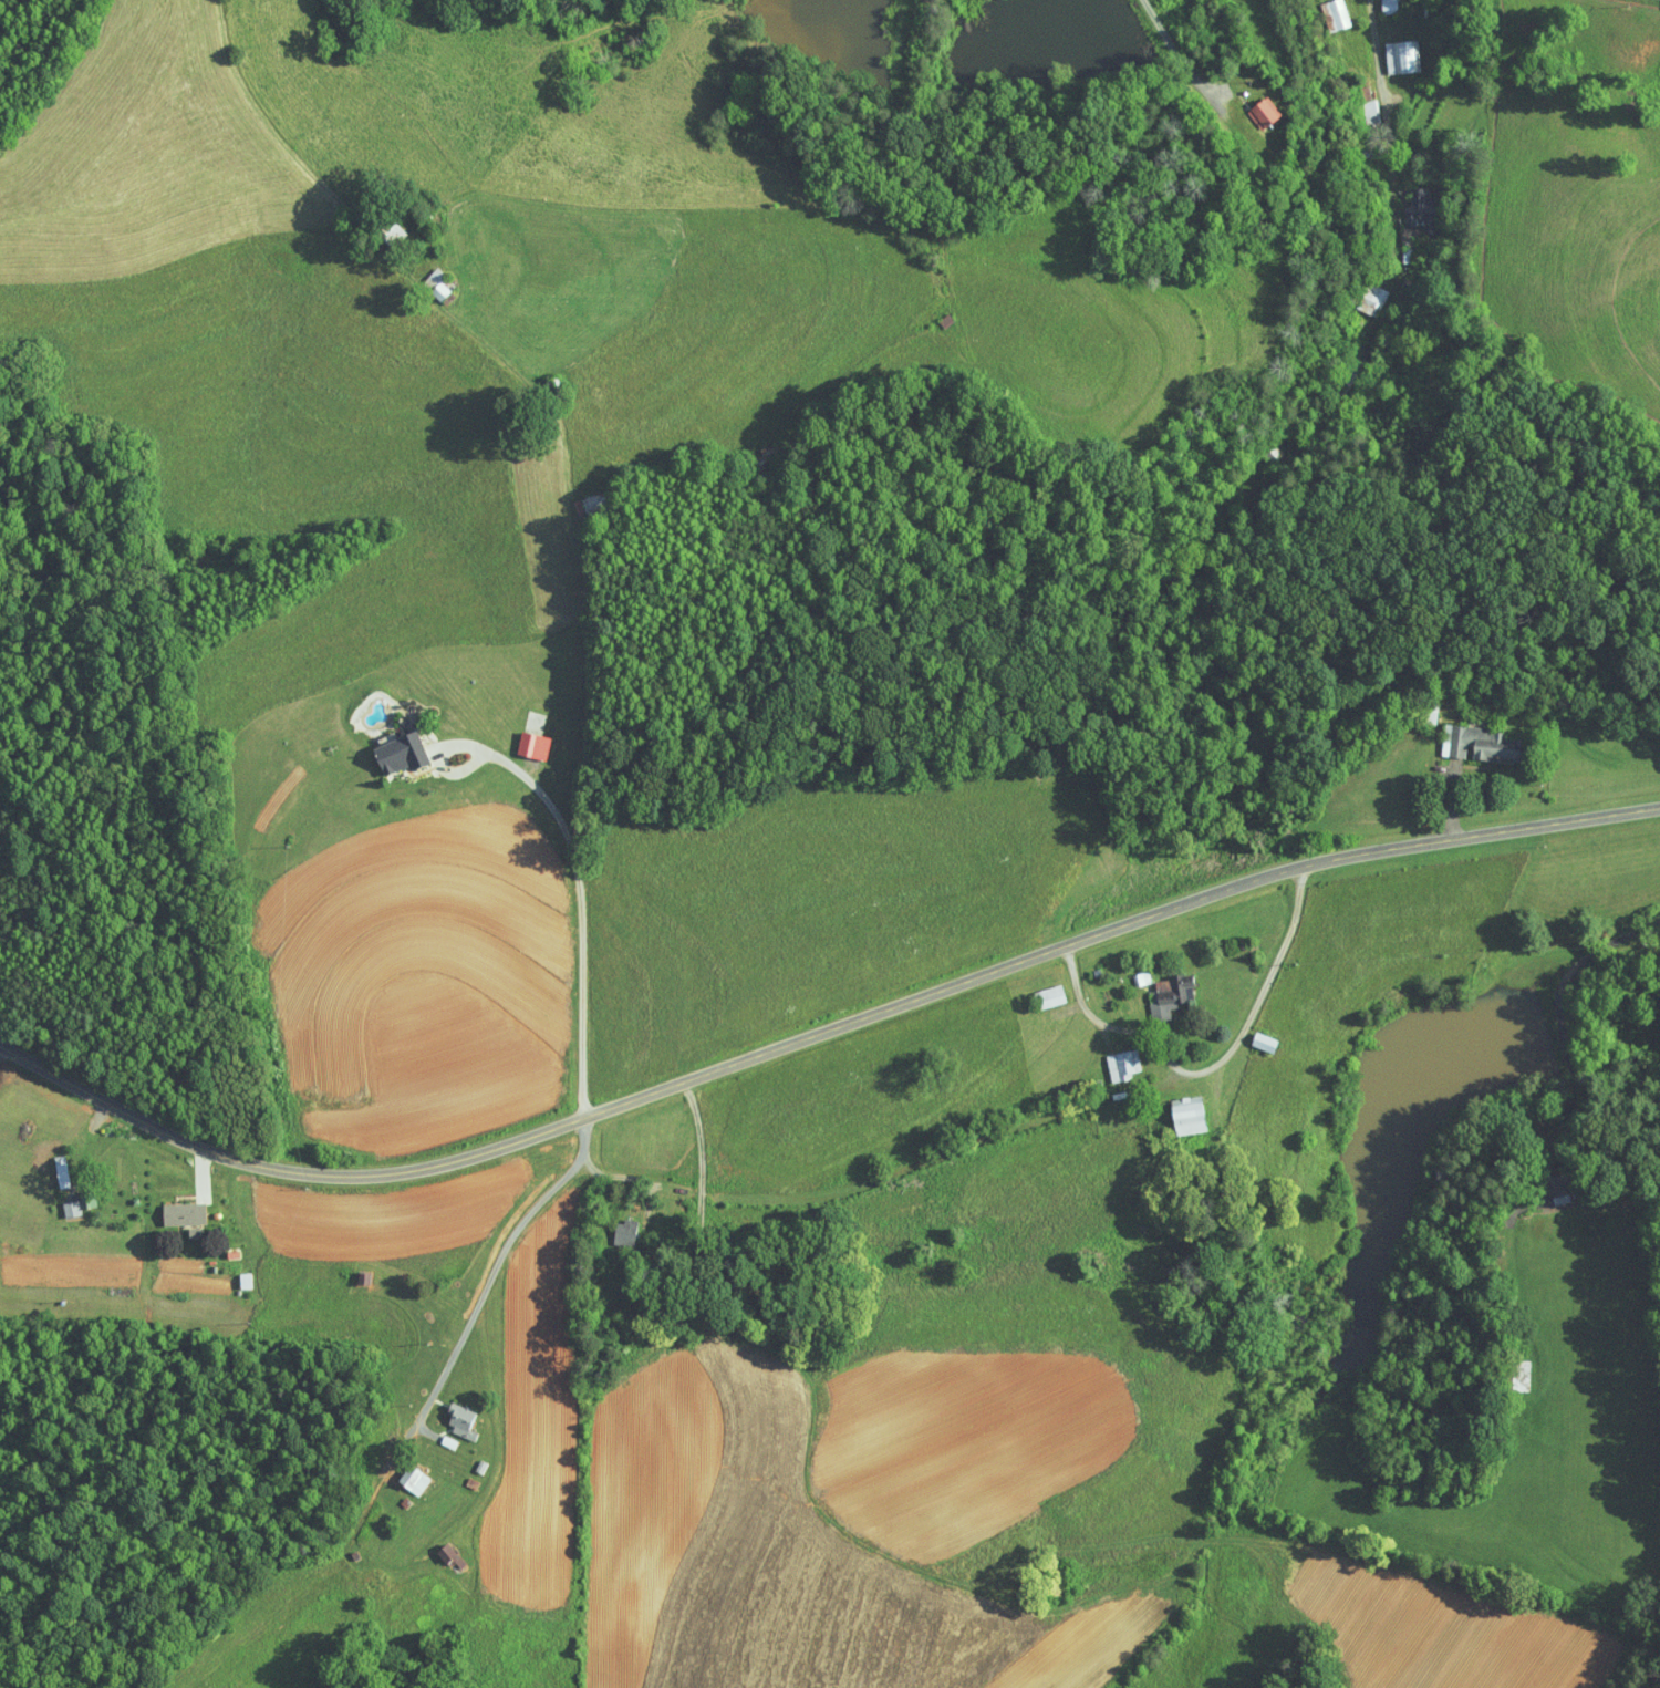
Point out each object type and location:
building: (1378, 2)
building: (1324, 11)
building: (1389, 50)
road: (1180, 56)
building: (1256, 105)
road: (1390, 114)
building: (1411, 204)
road: (383, 249)
building: (429, 278)
building: (1359, 291)
building: (1471, 737)
building: (526, 738)
building: (395, 747)
road: (580, 917)
road: (1568, 984)
building: (1162, 990)
road: (820, 1035)
road: (2, 1050)
building: (1112, 1058)
road: (1213, 1066)
building: (1181, 1108)
building: (52, 1164)
building: (62, 1202)
building: (176, 1208)
building: (614, 1226)
building: (236, 1274)
road: (479, 1302)
building: (453, 1413)
building: (405, 1473)

